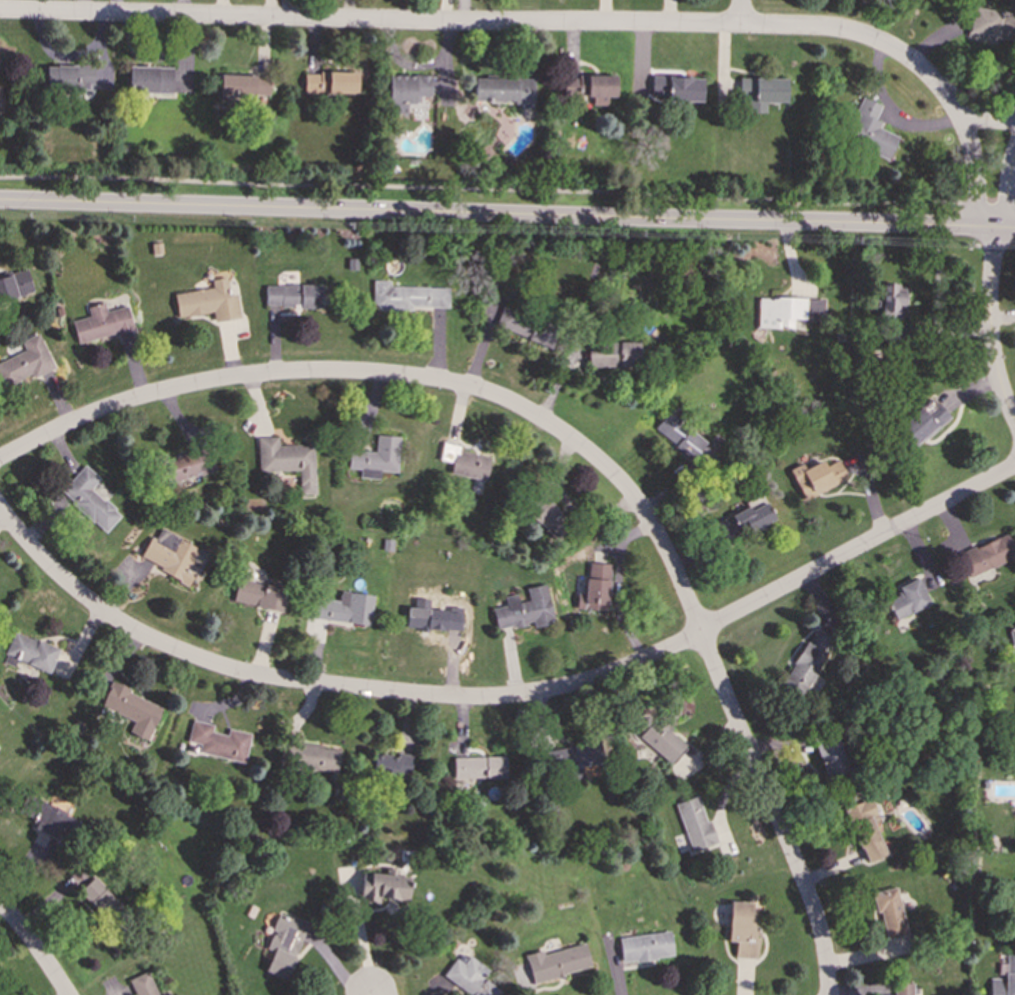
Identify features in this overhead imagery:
road: (741, 12)
road: (370, 21)
building: (992, 24)
road: (890, 48)
building: (67, 77)
building: (150, 79)
building: (330, 83)
building: (244, 85)
building: (597, 88)
building: (676, 88)
building: (503, 90)
building: (406, 91)
building: (760, 92)
building: (870, 130)
road: (974, 172)
road: (507, 190)
road: (1006, 190)
road: (507, 216)
building: (14, 285)
building: (292, 296)
building: (408, 296)
building: (208, 301)
building: (891, 301)
building: (786, 311)
building: (101, 323)
building: (526, 325)
road: (990, 328)
building: (612, 354)
building: (25, 361)
road: (402, 376)
building: (922, 422)
building: (679, 435)
building: (376, 458)
building: (287, 460)
building: (464, 461)
building: (188, 464)
building: (817, 477)
building: (88, 500)
building: (545, 515)
building: (742, 521)
building: (169, 554)
building: (988, 555)
building: (594, 588)
building: (259, 595)
building: (907, 599)
building: (345, 608)
building: (524, 609)
building: (434, 619)
building: (1011, 634)
building: (29, 652)
building: (806, 663)
road: (504, 697)
building: (133, 710)
building: (658, 737)
building: (218, 741)
building: (829, 753)
building: (312, 757)
building: (569, 760)
building: (391, 765)
building: (478, 769)
road: (773, 811)
building: (50, 818)
building: (695, 824)
building: (866, 829)
building: (383, 887)
building: (98, 896)
building: (890, 913)
building: (742, 929)
building: (284, 946)
building: (645, 947)
road: (35, 948)
building: (557, 962)
building: (469, 977)
building: (1004, 979)
building: (143, 984)
building: (903, 988)
road: (374, 992)

